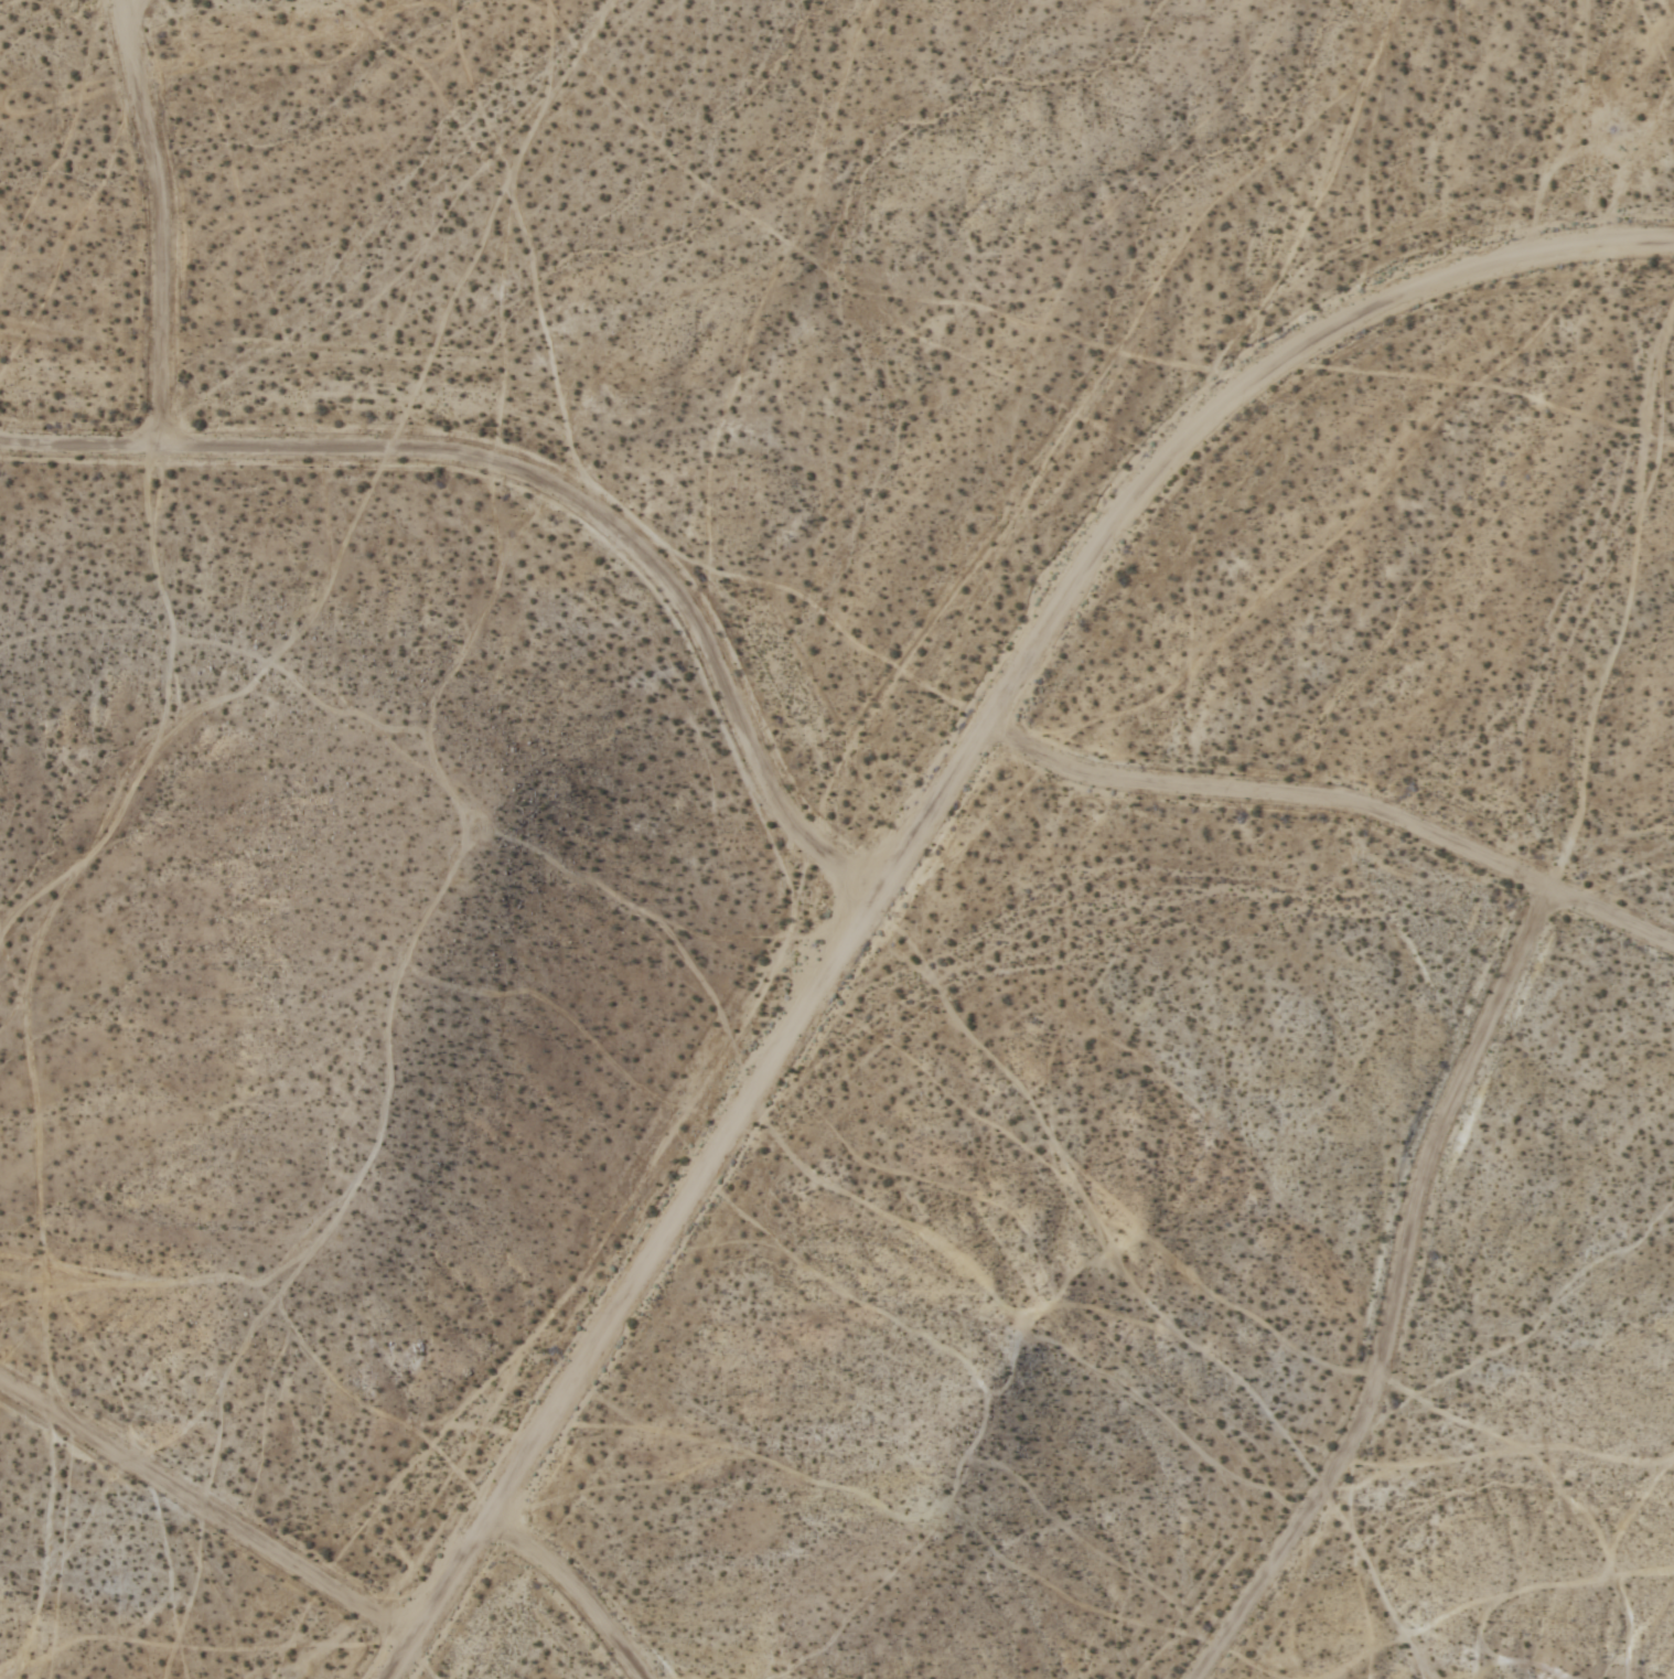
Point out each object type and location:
road: (162, 223)
road: (541, 485)
road: (1338, 803)
road: (924, 825)
road: (1397, 1296)
road: (207, 1515)
road: (576, 1593)

